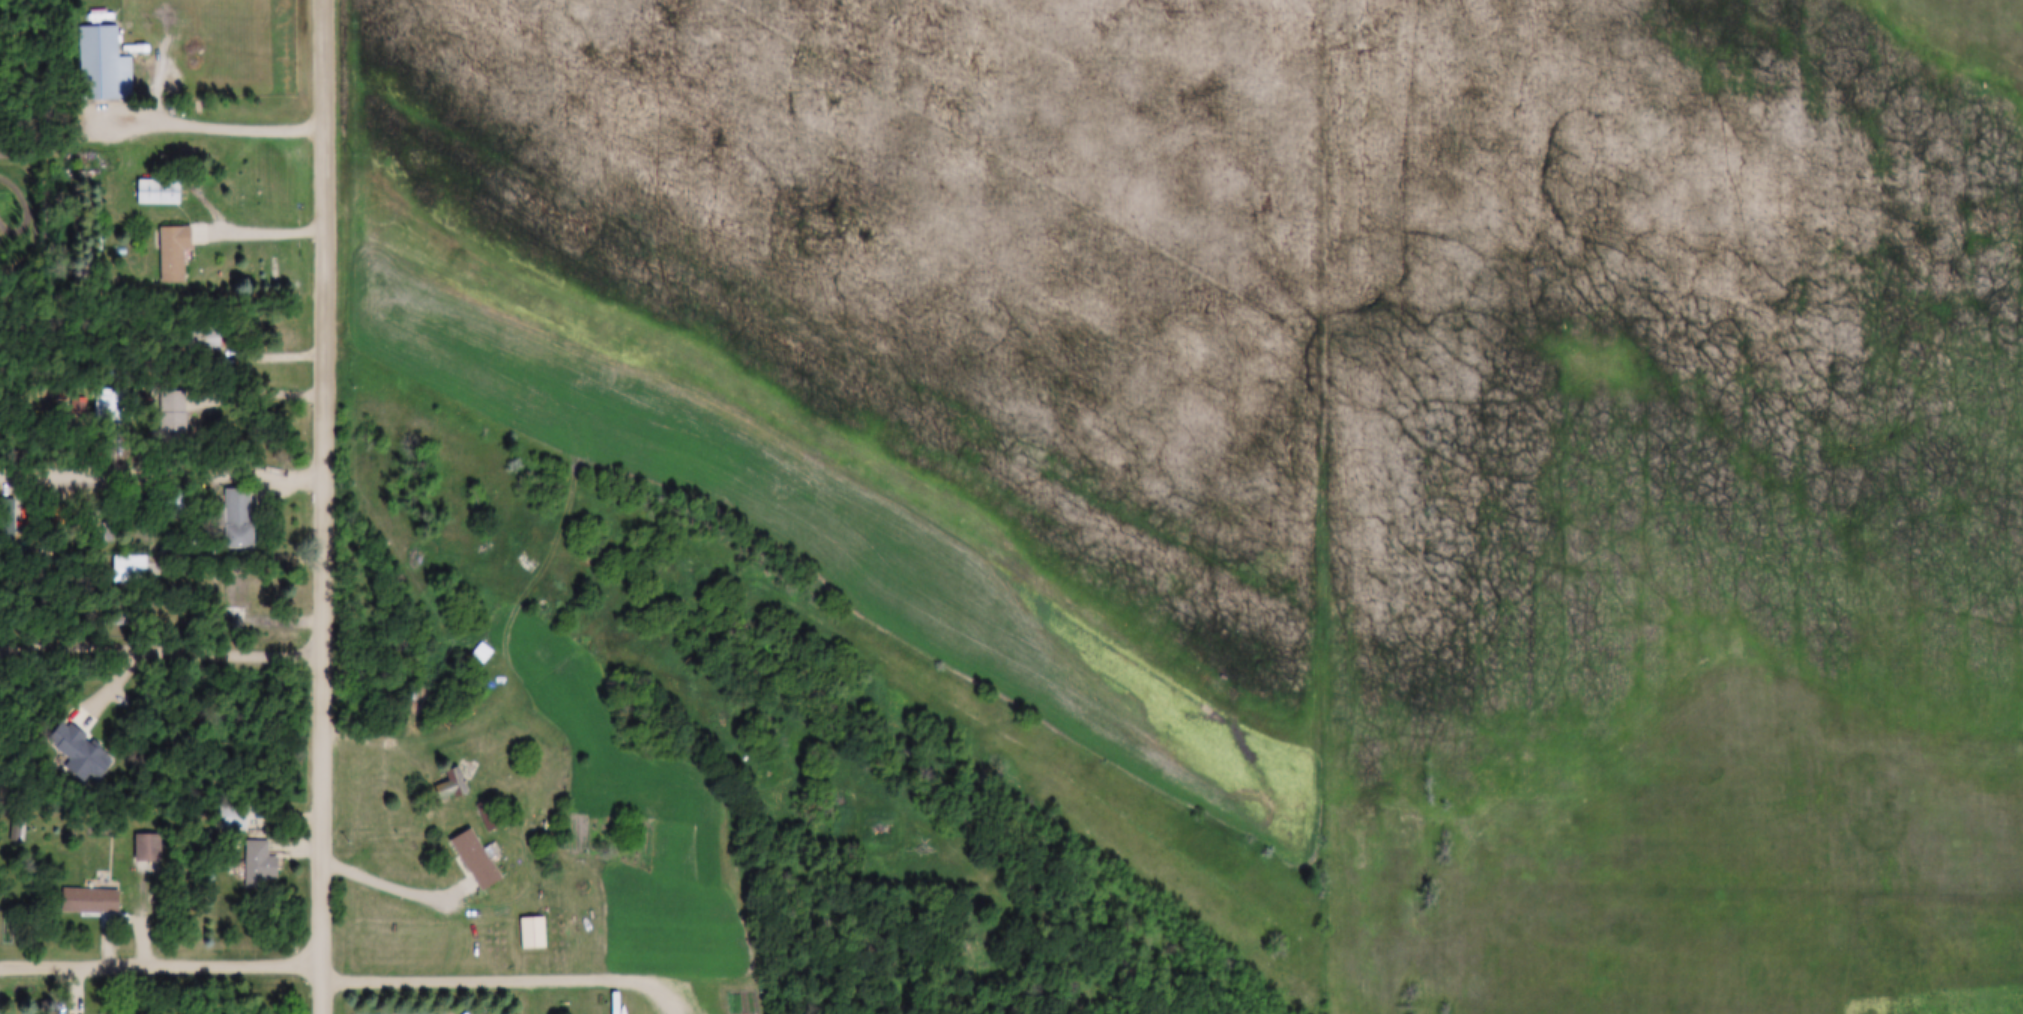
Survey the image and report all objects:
building: (103, 65)
road: (227, 126)
building: (158, 193)
building: (173, 253)
building: (209, 340)
building: (111, 405)
building: (172, 421)
road: (164, 474)
building: (172, 502)
road: (328, 506)
building: (93, 516)
building: (107, 518)
building: (237, 519)
building: (129, 569)
building: (234, 604)
building: (120, 619)
road: (163, 649)
building: (85, 760)
building: (451, 785)
building: (232, 818)
building: (148, 853)
building: (475, 860)
building: (258, 865)
road: (400, 886)
building: (90, 901)
building: (532, 934)
road: (163, 964)

